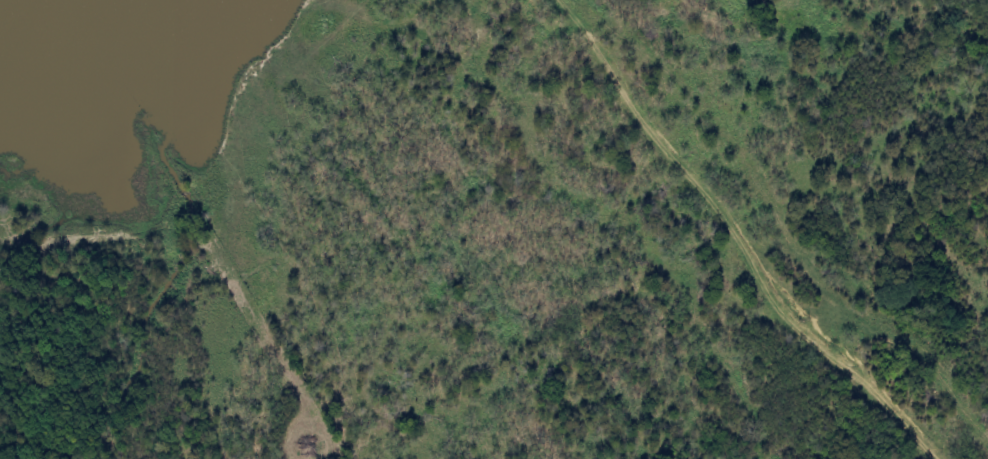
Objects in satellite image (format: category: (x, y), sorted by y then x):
road: (736, 238)

